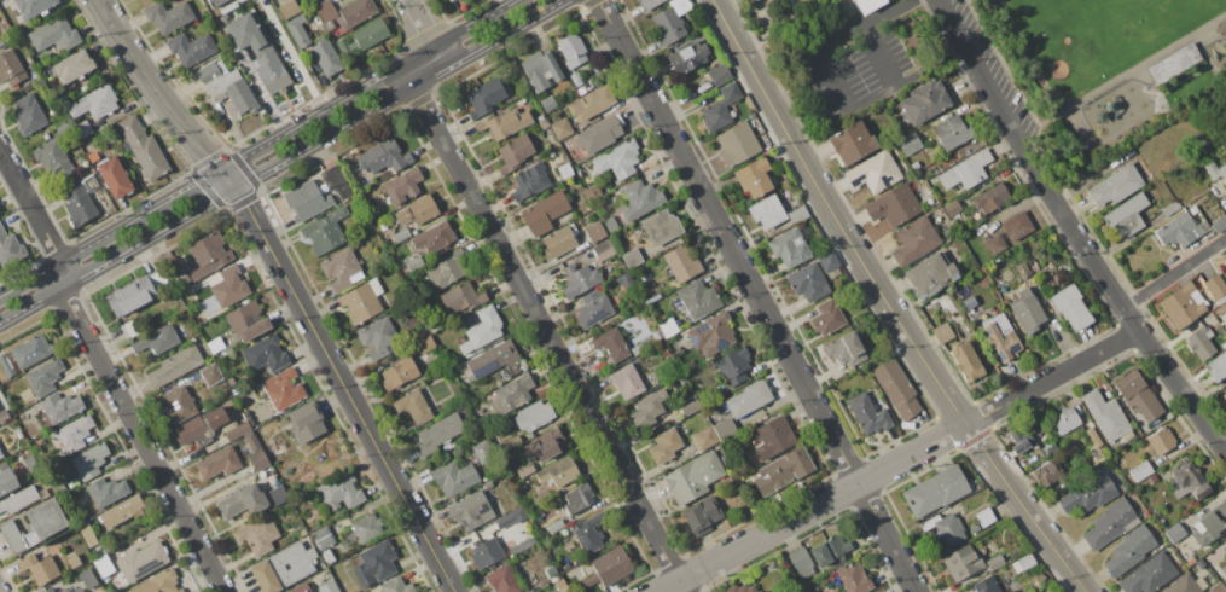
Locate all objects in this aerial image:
building: (448, 0)
building: (451, 0)
building: (277, 1)
building: (750, 1)
building: (213, 2)
building: (223, 4)
building: (647, 4)
building: (868, 5)
building: (35, 7)
road: (897, 7)
building: (287, 8)
building: (325, 11)
building: (356, 12)
building: (168, 16)
building: (670, 21)
building: (329, 25)
road: (423, 27)
building: (298, 31)
road: (848, 33)
park: (1115, 33)
building: (370, 34)
building: (54, 35)
building: (2, 43)
building: (343, 45)
building: (191, 48)
building: (256, 50)
building: (571, 50)
building: (687, 57)
building: (326, 58)
road: (781, 60)
building: (1173, 63)
building: (74, 66)
road: (946, 66)
building: (11, 68)
road: (422, 68)
parking lot: (855, 68)
building: (540, 70)
building: (719, 74)
park: (1126, 75)
building: (576, 79)
building: (227, 86)
road: (153, 91)
road: (870, 95)
building: (484, 98)
road: (1088, 99)
building: (94, 103)
building: (548, 103)
building: (591, 103)
building: (924, 103)
building: (721, 108)
building: (28, 115)
building: (542, 122)
building: (504, 123)
building: (562, 129)
building: (80, 130)
building: (952, 132)
building: (599, 134)
building: (109, 141)
building: (852, 143)
building: (908, 143)
building: (737, 144)
building: (143, 147)
road: (262, 150)
building: (515, 153)
building: (93, 156)
building: (383, 156)
building: (52, 158)
road: (277, 158)
building: (618, 159)
building: (914, 164)
building: (565, 170)
building: (966, 170)
building: (1216, 170)
traffic signals: (223, 173)
building: (873, 173)
building: (754, 176)
building: (115, 178)
building: (88, 181)
building: (336, 181)
building: (529, 181)
traffic signals: (234, 185)
building: (402, 185)
building: (1115, 186)
building: (593, 192)
building: (990, 198)
building: (640, 199)
building: (306, 201)
building: (77, 203)
building: (894, 205)
building: (952, 207)
road: (31, 208)
building: (1169, 209)
building: (417, 211)
building: (767, 211)
building: (545, 213)
building: (797, 215)
building: (1126, 215)
building: (611, 225)
building: (1219, 225)
building: (1018, 226)
building: (661, 227)
building: (325, 231)
road: (1074, 231)
building: (1179, 231)
building: (595, 232)
building: (401, 234)
building: (434, 238)
building: (558, 240)
building: (914, 240)
building: (995, 244)
building: (789, 248)
building: (10, 249)
building: (604, 250)
building: (208, 255)
building: (1225, 256)
building: (633, 257)
building: (827, 261)
building: (681, 262)
building: (413, 263)
building: (342, 269)
building: (448, 269)
building: (1022, 269)
building: (930, 274)
road: (1175, 274)
road: (59, 275)
building: (580, 279)
building: (808, 282)
building: (627, 283)
building: (227, 286)
building: (1216, 288)
building: (1000, 290)
building: (135, 294)
road: (755, 295)
building: (655, 297)
building: (461, 298)
building: (698, 298)
building: (362, 301)
building: (970, 302)
road: (888, 303)
building: (1183, 306)
building: (1071, 307)
building: (593, 309)
building: (1027, 312)
building: (827, 317)
building: (246, 321)
building: (668, 327)
building: (130, 329)
building: (482, 330)
building: (715, 333)
building: (942, 333)
building: (657, 335)
road: (546, 336)
building: (675, 336)
building: (1001, 337)
building: (379, 338)
building: (157, 339)
building: (1201, 342)
building: (425, 344)
building: (1224, 344)
building: (611, 346)
building: (638, 348)
building: (846, 349)
building: (30, 352)
building: (265, 354)
building: (664, 354)
building: (495, 360)
building: (968, 361)
building: (6, 365)
building: (733, 365)
building: (175, 366)
building: (1216, 366)
building: (399, 373)
building: (211, 375)
building: (45, 376)
road: (339, 381)
building: (627, 382)
building: (232, 383)
building: (897, 388)
building: (281, 389)
building: (512, 394)
building: (1137, 395)
building: (1224, 396)
building: (748, 399)
building: (180, 405)
building: (688, 405)
building: (649, 406)
building: (62, 407)
building: (414, 407)
building: (4, 414)
building: (868, 414)
building: (534, 416)
building: (1105, 416)
building: (216, 417)
building: (1065, 419)
building: (307, 422)
building: (229, 425)
building: (725, 429)
building: (190, 430)
building: (237, 431)
building: (75, 433)
building: (19, 434)
building: (438, 434)
road: (139, 437)
building: (704, 437)
building: (773, 437)
building: (1093, 437)
building: (1023, 439)
building: (1161, 441)
building: (252, 442)
building: (511, 442)
building: (547, 443)
road: (1224, 445)
building: (664, 446)
building: (28, 451)
building: (483, 452)
building: (1, 454)
building: (192, 455)
building: (260, 460)
building: (89, 462)
road: (899, 462)
building: (31, 463)
building: (219, 463)
building: (525, 470)
building: (783, 470)
building: (1141, 471)
building: (558, 472)
building: (1047, 474)
building: (454, 477)
building: (693, 477)
building: (7, 478)
building: (1189, 481)
building: (106, 491)
building: (341, 492)
building: (935, 492)
building: (278, 495)
building: (1087, 495)
building: (579, 498)
building: (22, 499)
building: (541, 499)
building: (242, 501)
building: (121, 511)
building: (471, 511)
building: (701, 515)
building: (511, 517)
building: (984, 517)
building: (1111, 524)
building: (1210, 524)
building: (34, 526)
building: (556, 526)
building: (367, 528)
building: (946, 528)
building: (302, 533)
building: (320, 533)
building: (589, 533)
building: (87, 534)
building: (257, 534)
building: (1175, 534)
building: (325, 541)
building: (518, 549)
building: (830, 550)
building: (1129, 551)
building: (486, 552)
building: (1225, 553)
building: (327, 556)
building: (573, 556)
building: (141, 561)
building: (802, 561)
building: (74, 562)
building: (961, 562)
building: (997, 562)
building: (374, 563)
building: (1023, 563)
building: (1201, 563)
building: (104, 565)
building: (611, 565)
building: (283, 567)
building: (1222, 567)
building: (39, 568)
building: (1149, 575)
building: (88, 578)
building: (854, 578)
building: (501, 580)
building: (591, 580)
building: (158, 582)
building: (562, 585)
building: (987, 585)
building: (1186, 585)
building: (329, 586)
building: (396, 586)
building: (1218, 587)
building: (300, 588)
building: (740, 588)
building: (48, 590)
building: (79, 590)
building: (66, 591)
building: (877, 591)

